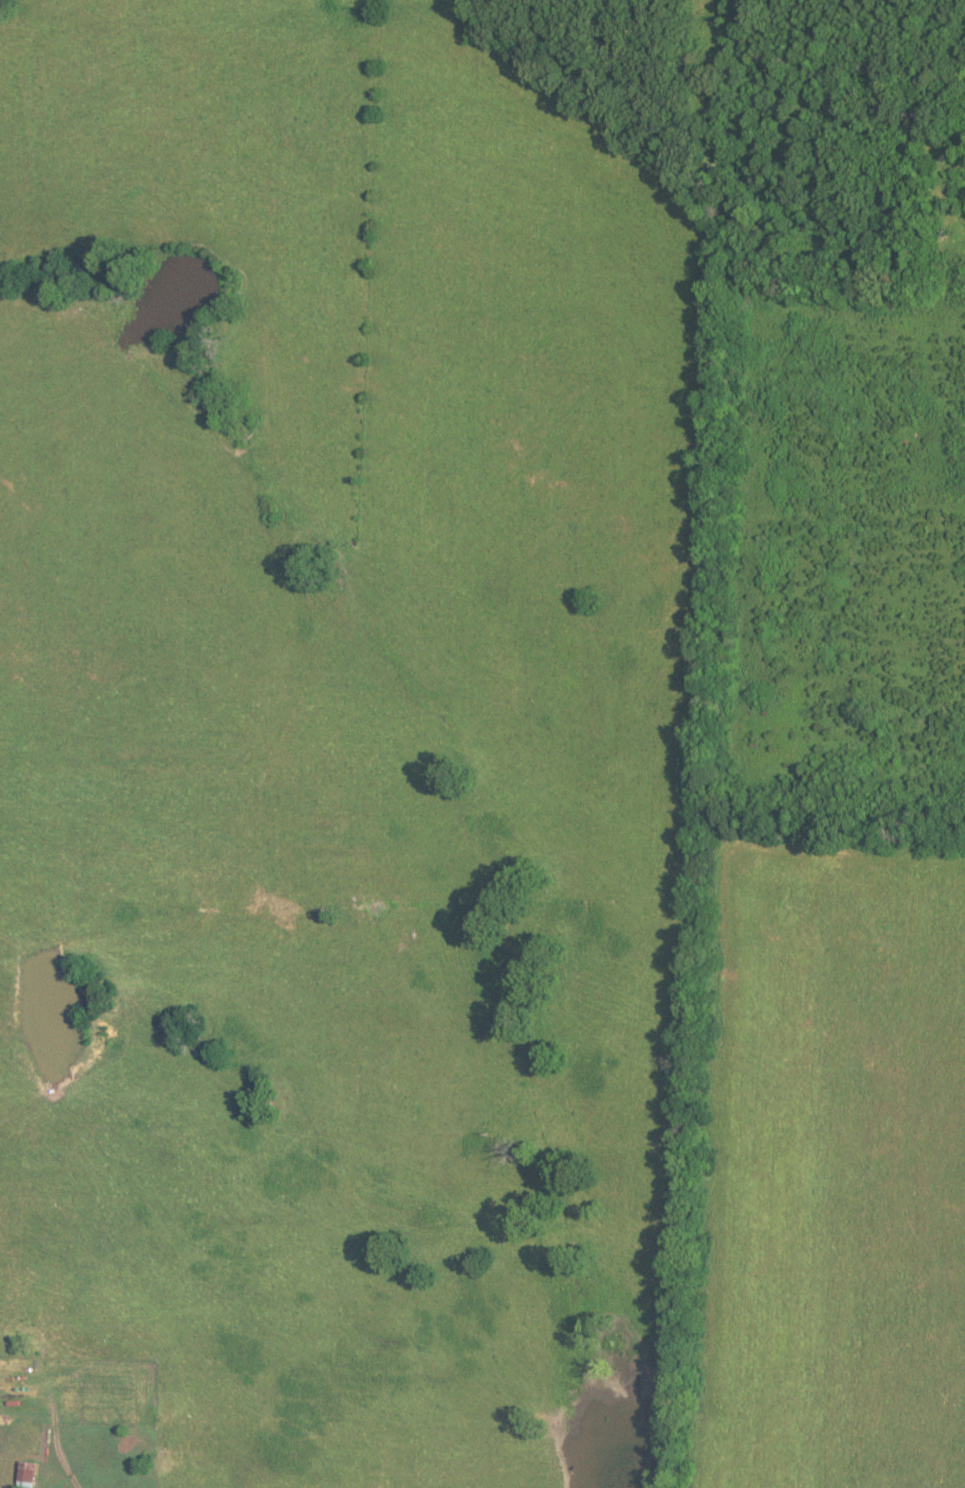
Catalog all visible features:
building: (28, 1474)

